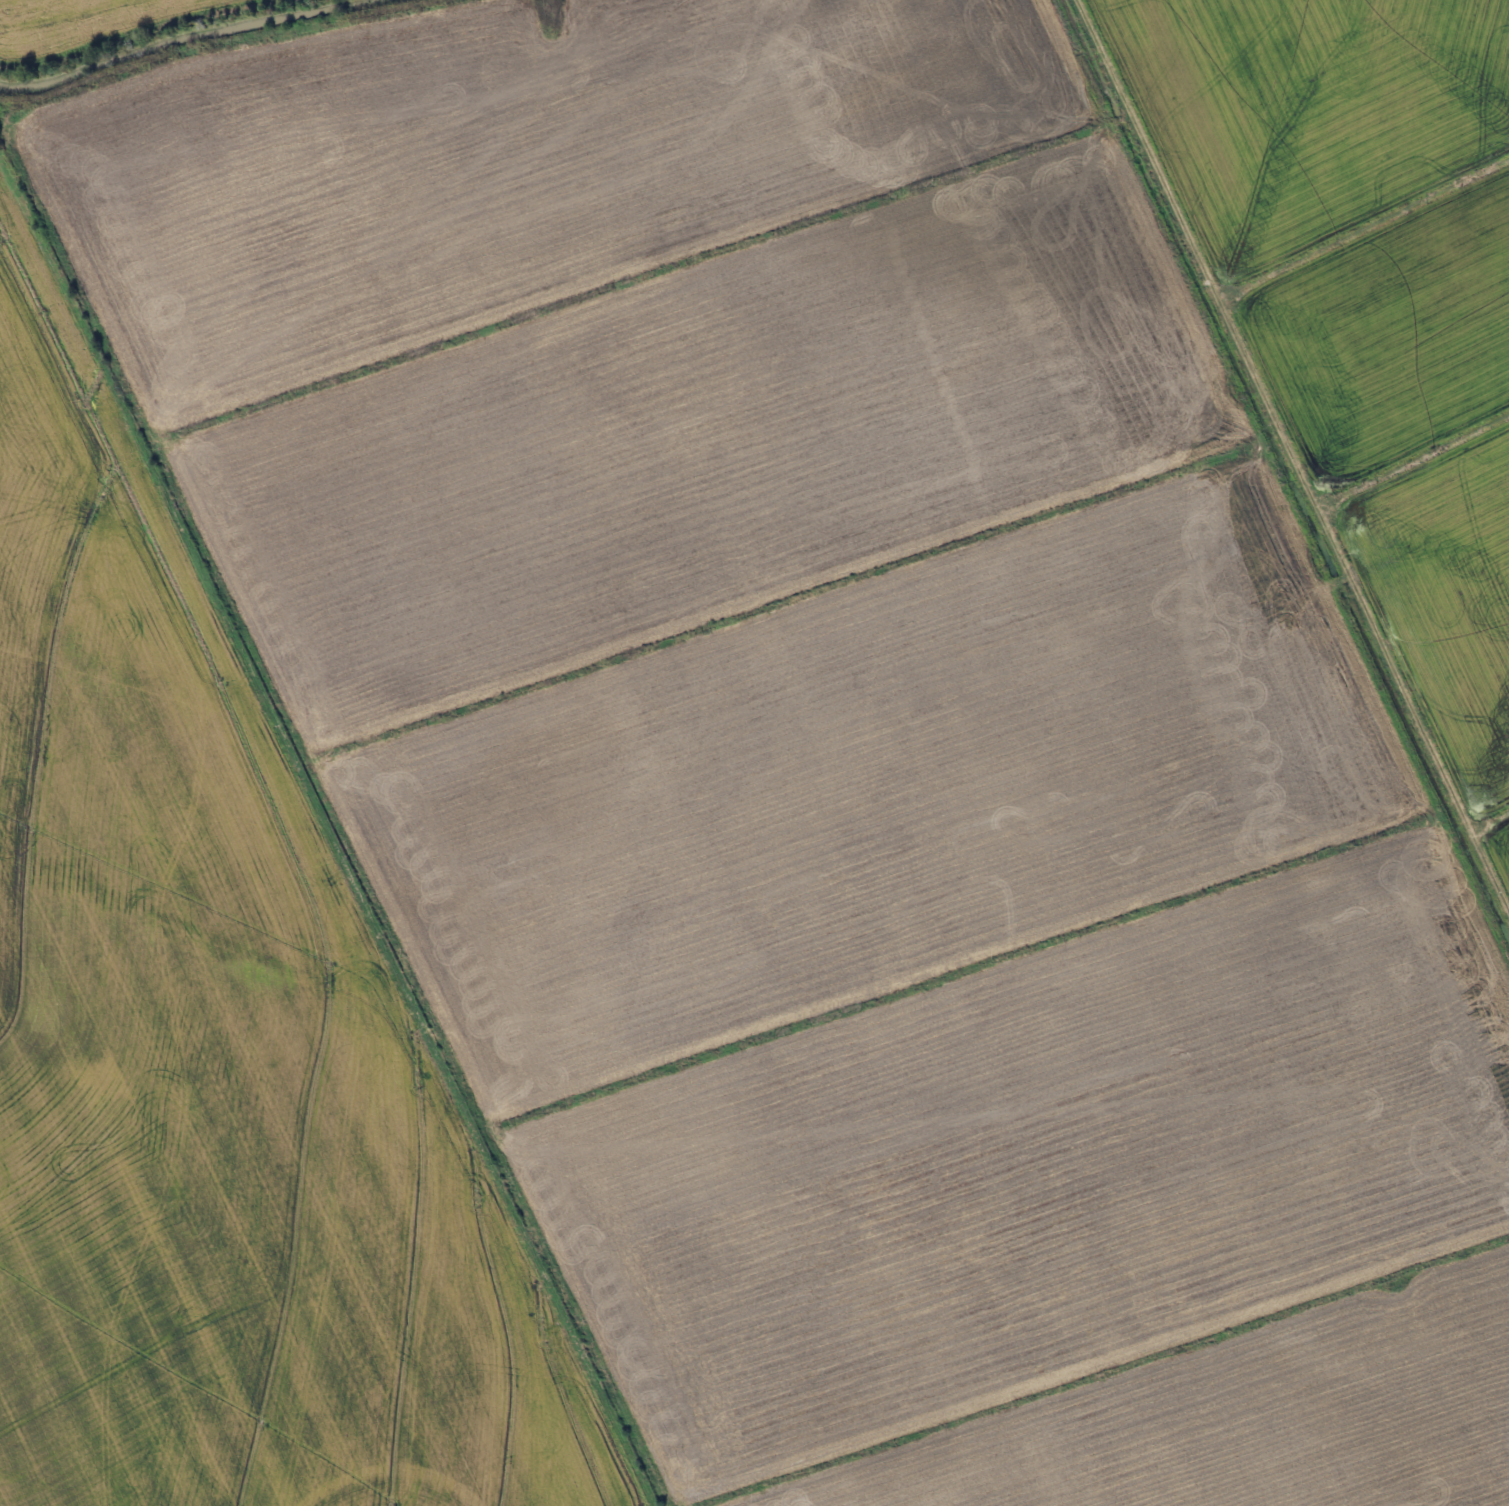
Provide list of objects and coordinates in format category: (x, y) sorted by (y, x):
road: (1454, 1416)

